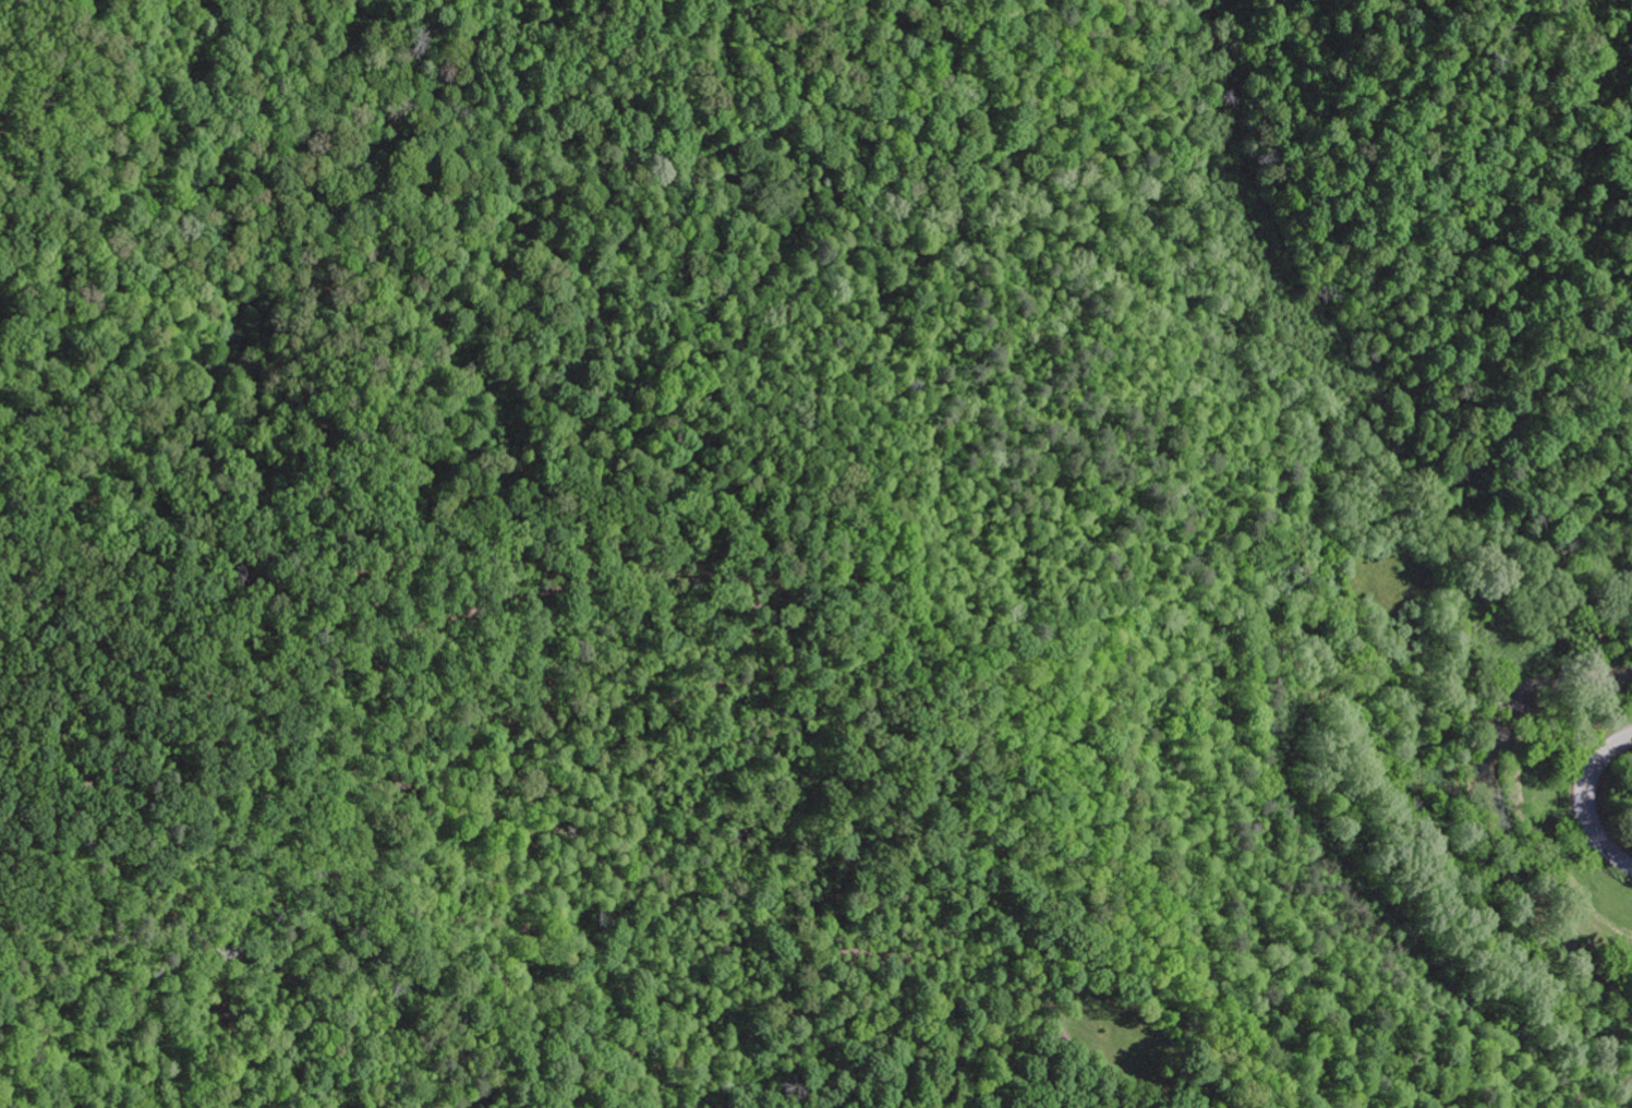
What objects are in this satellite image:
road: (1587, 796)

